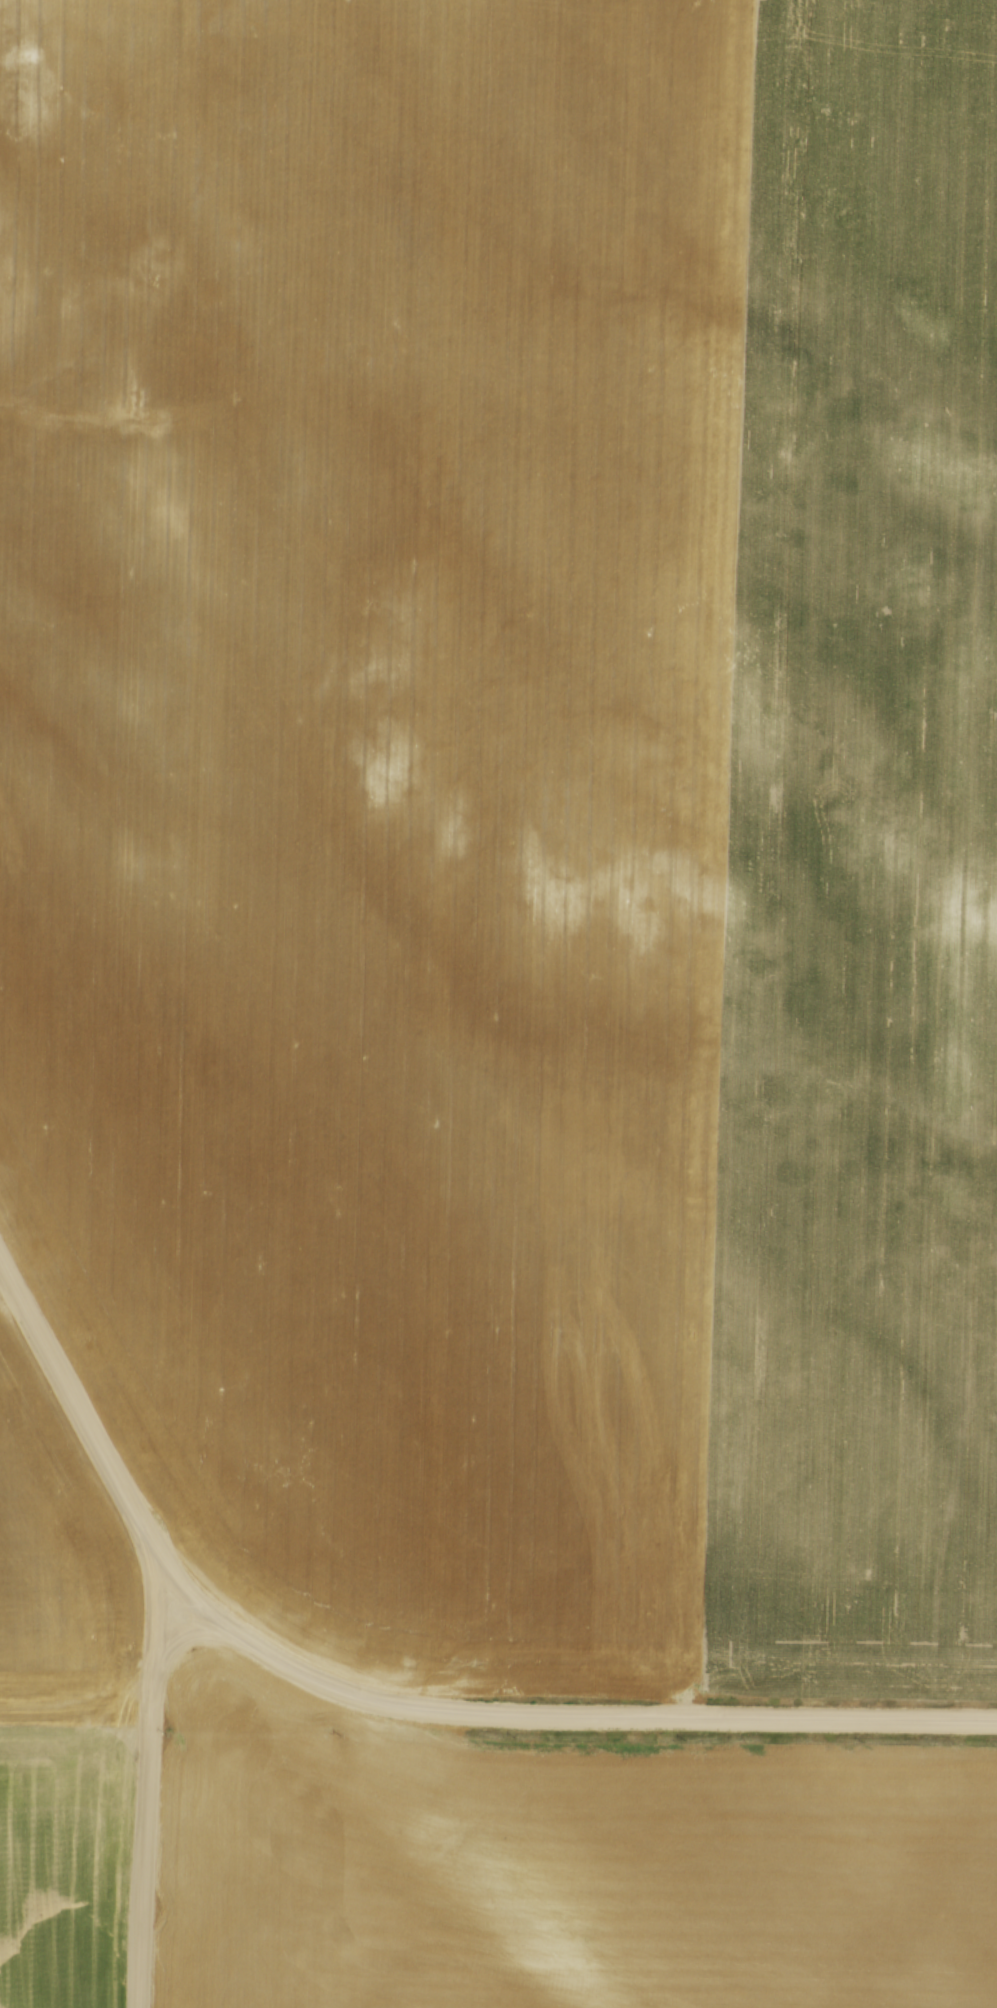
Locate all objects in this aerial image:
crop: (515, 816)
road: (108, 1463)
road: (563, 1713)
crop: (61, 1714)
road: (151, 1775)
crop: (564, 1865)

